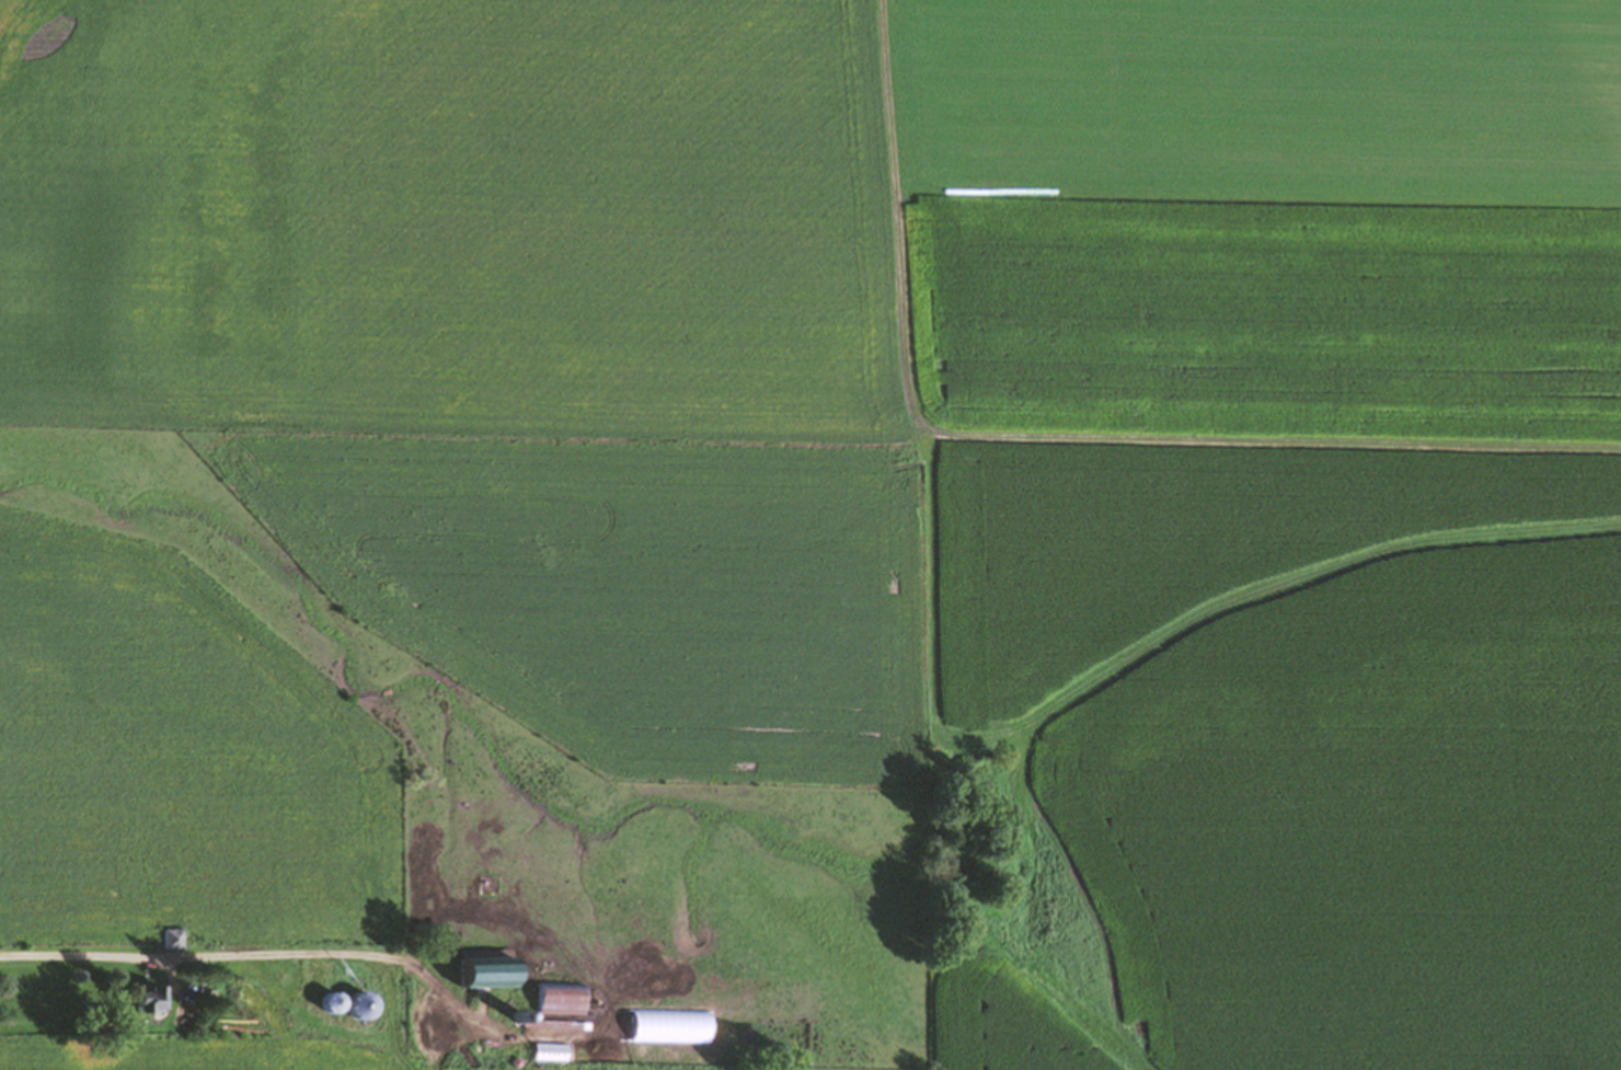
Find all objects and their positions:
road: (1059, 435)
building: (492, 882)
building: (172, 935)
road: (271, 953)
building: (487, 965)
building: (149, 994)
building: (552, 996)
building: (334, 1000)
building: (364, 1004)
road: (390, 1012)
building: (550, 1048)

